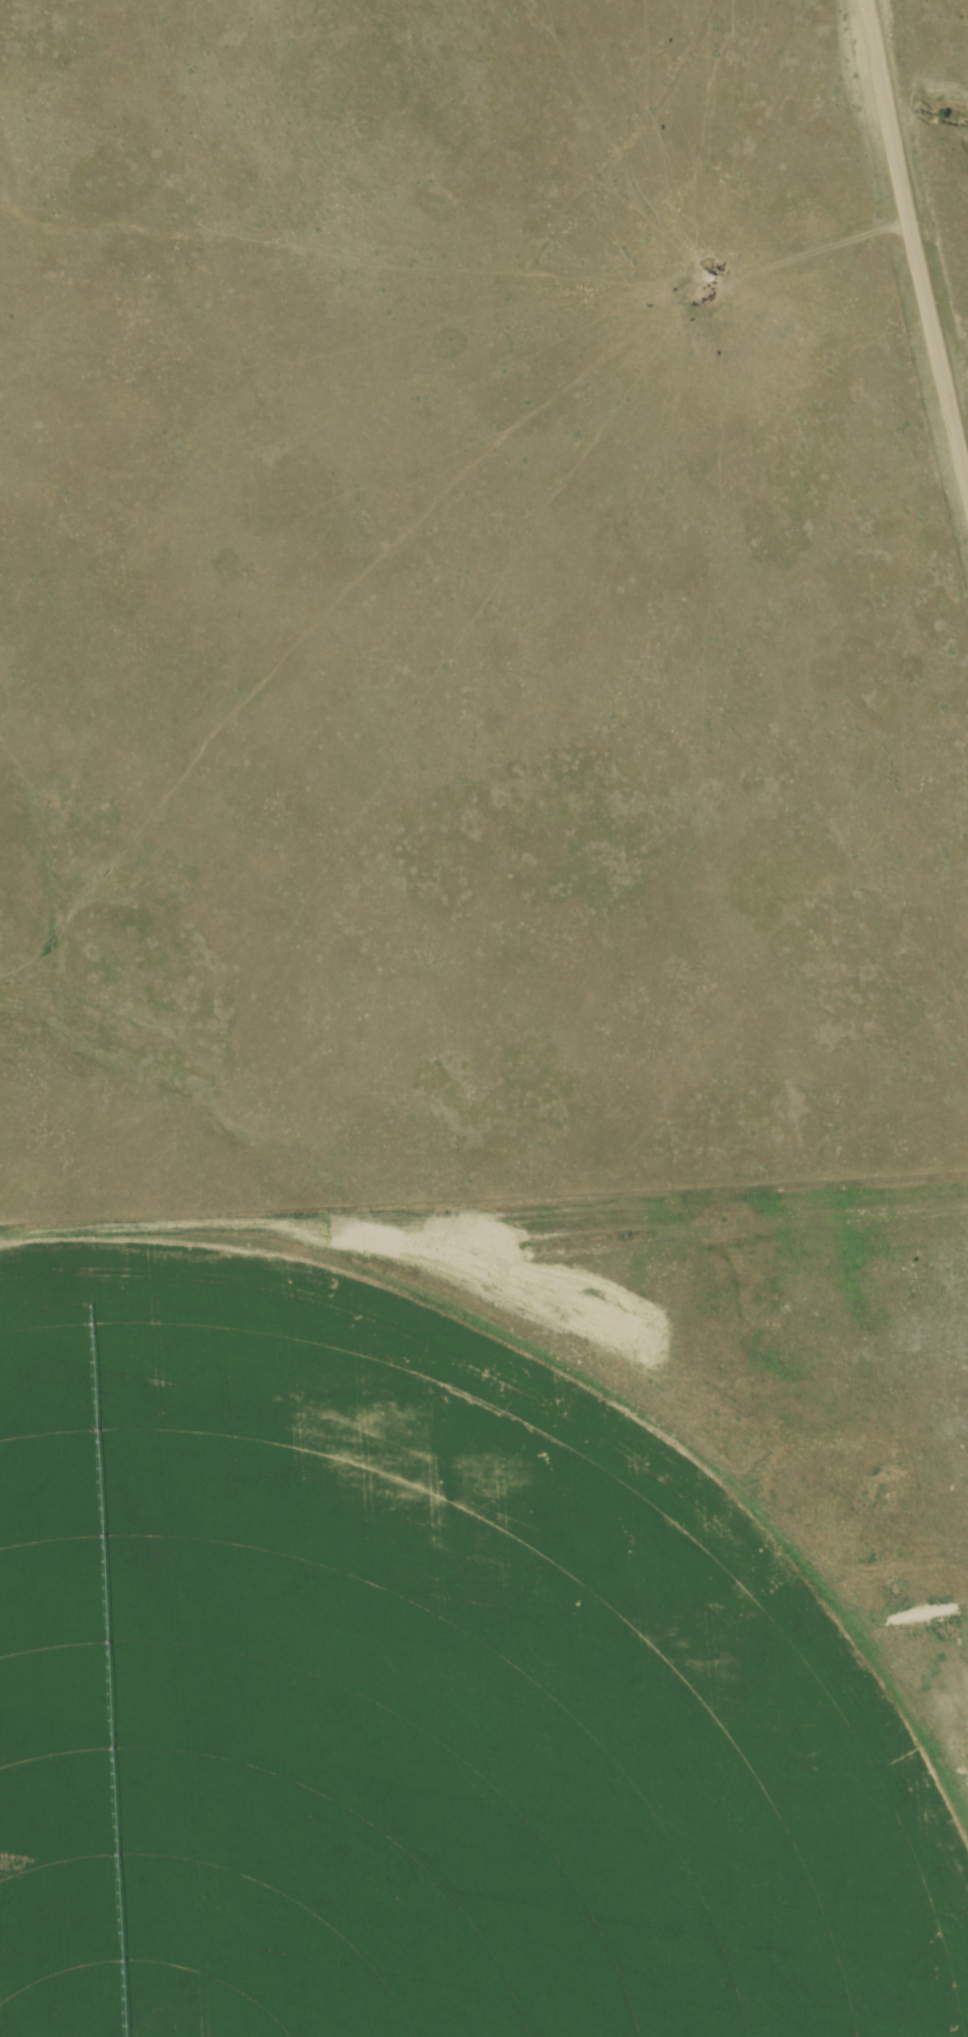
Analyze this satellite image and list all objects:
road: (911, 246)

